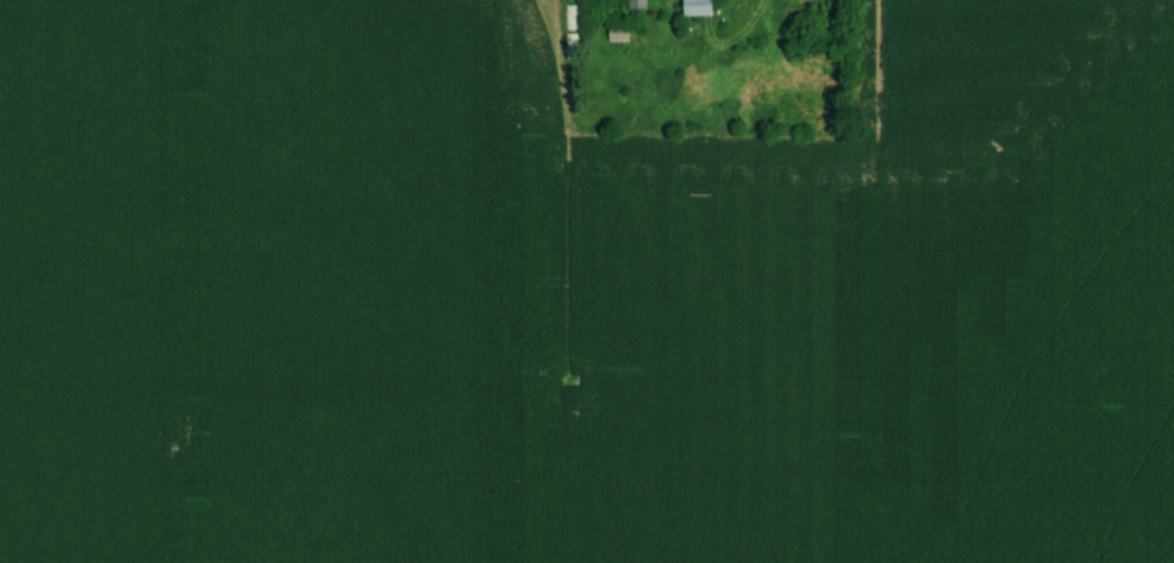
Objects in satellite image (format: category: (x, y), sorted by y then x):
building: (633, 5)
building: (692, 8)
building: (616, 33)

